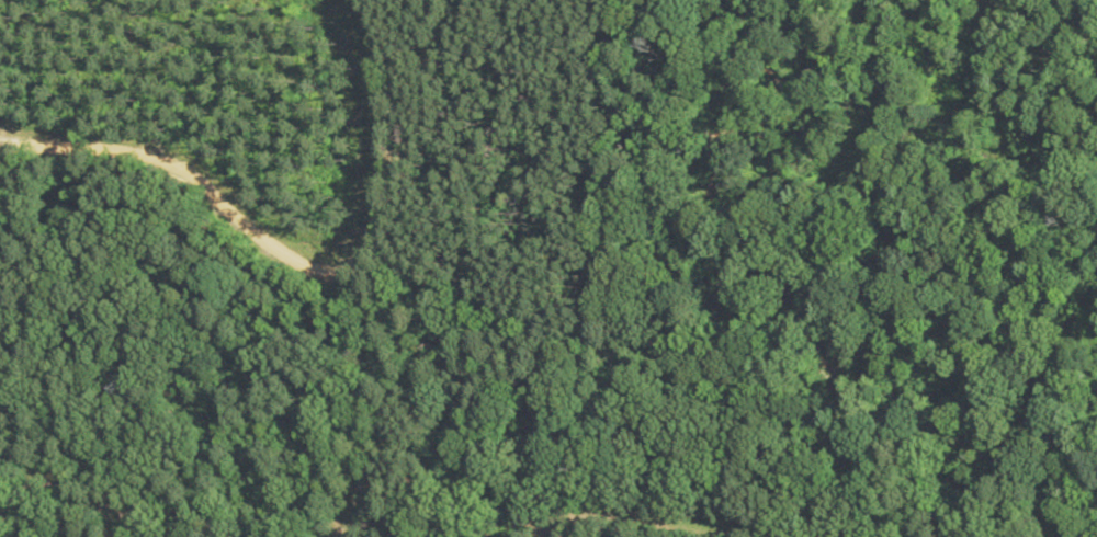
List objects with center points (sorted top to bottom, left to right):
road: (351, 267)

